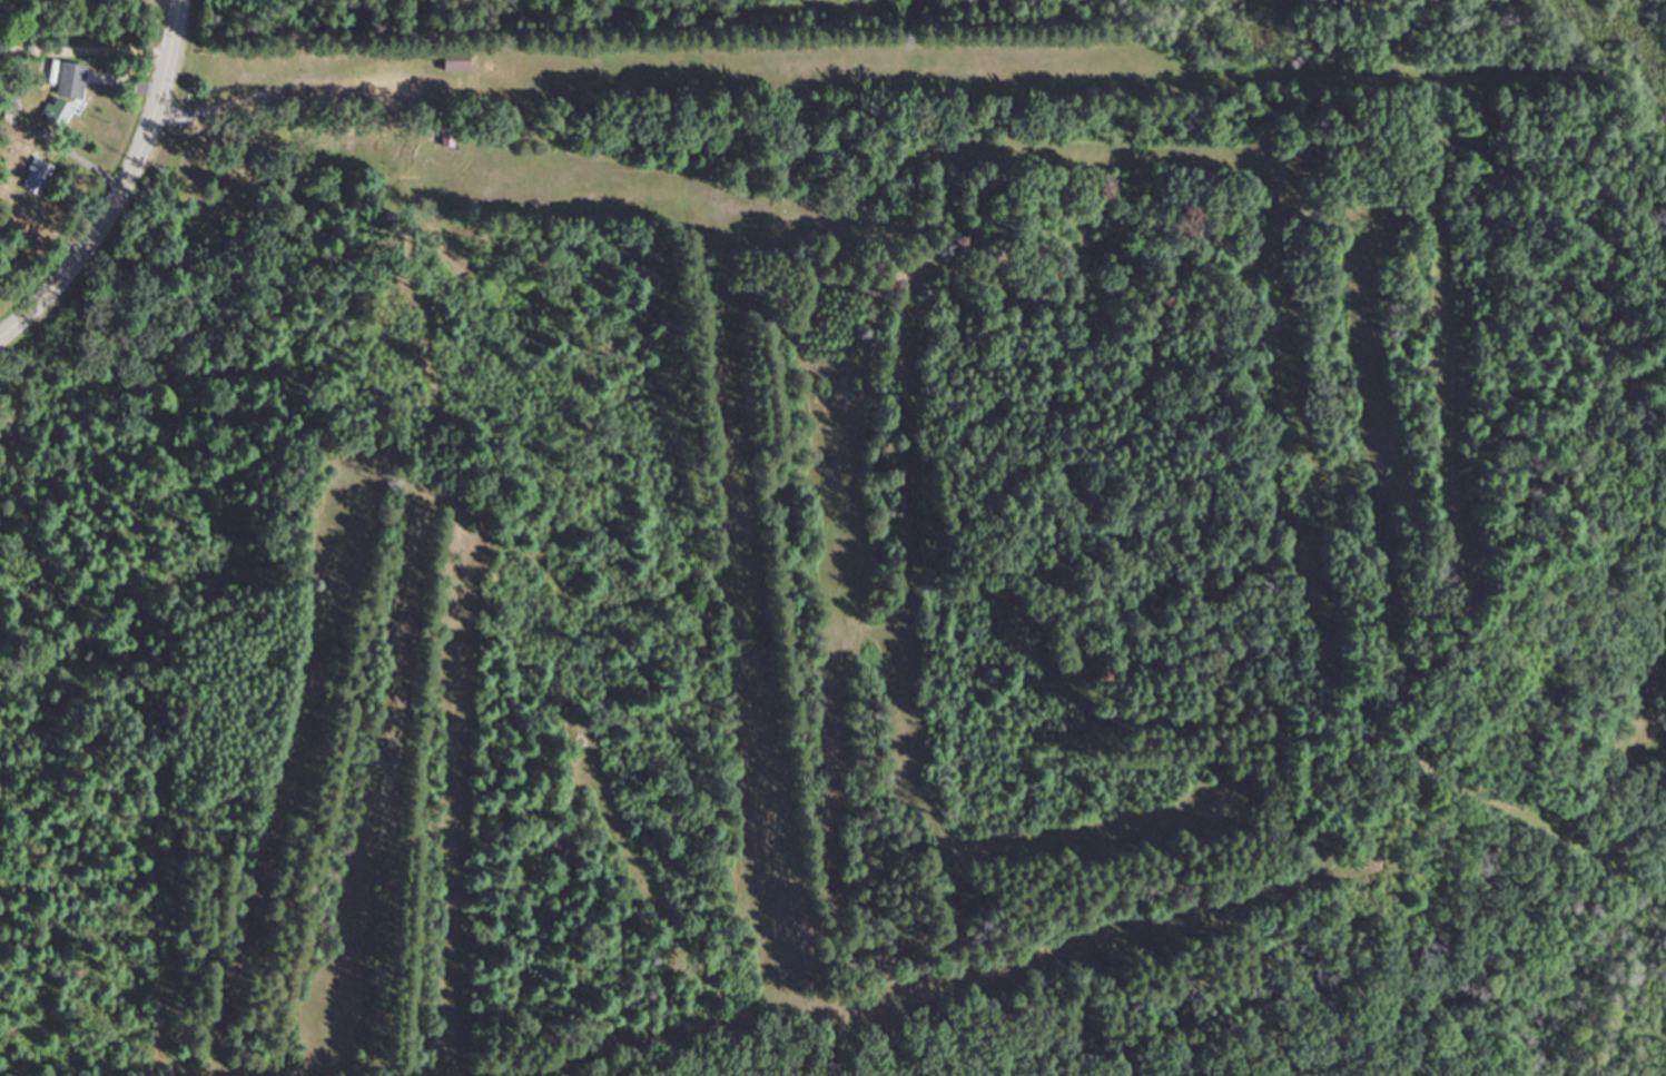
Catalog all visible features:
building: (456, 60)
building: (66, 92)
building: (445, 134)
building: (34, 176)
road: (127, 182)
park: (831, 572)

